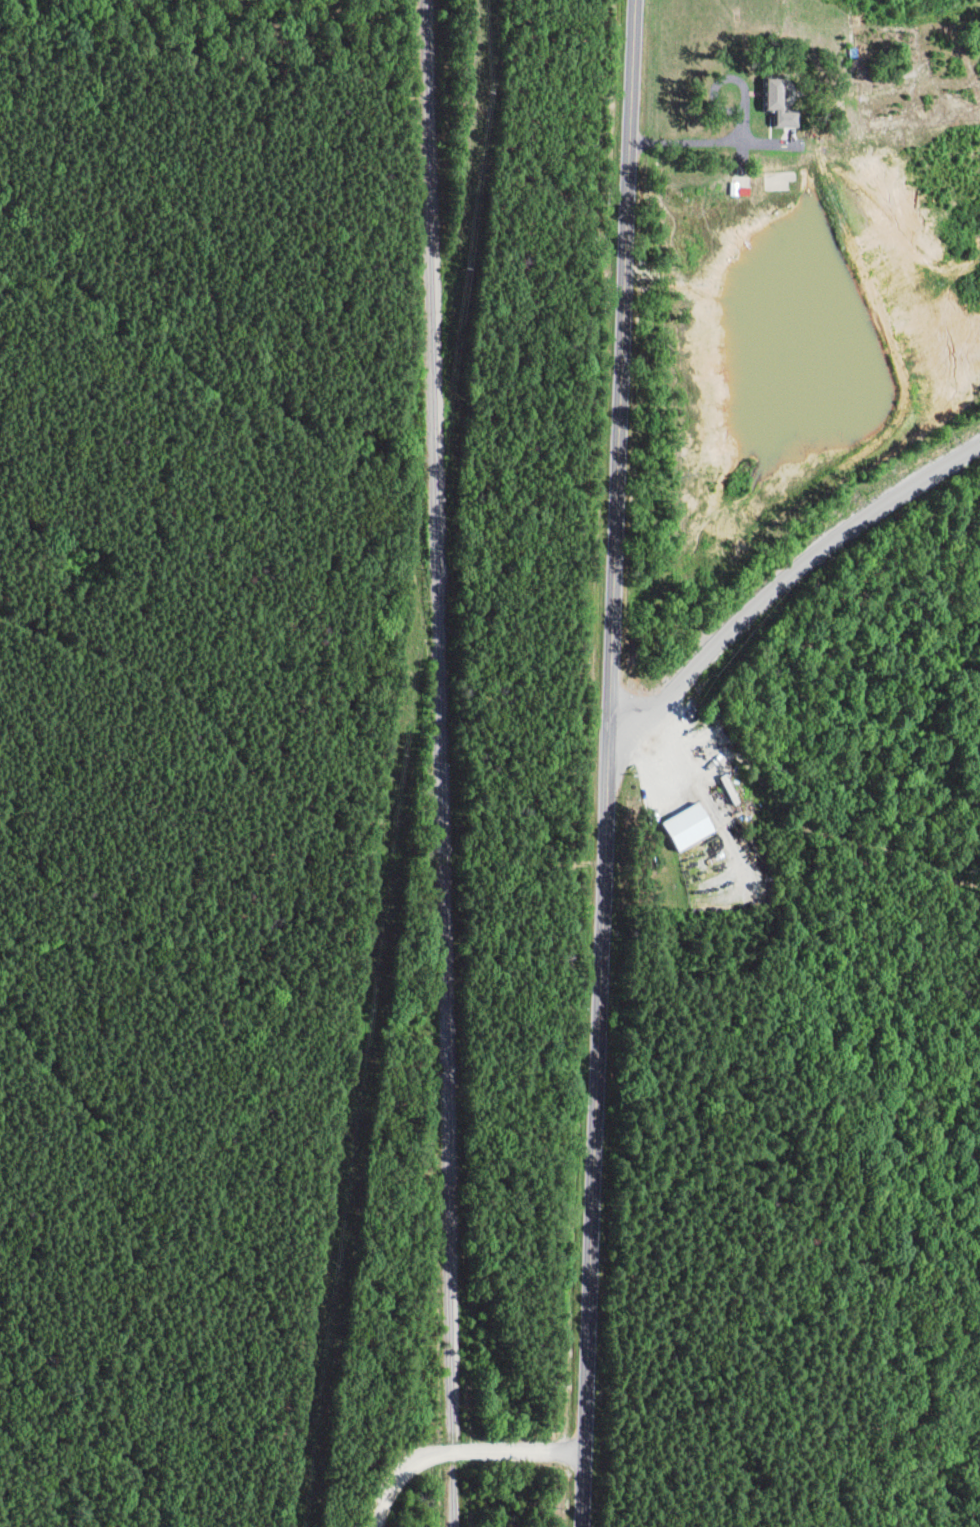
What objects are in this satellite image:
building: (778, 103)
road: (790, 581)
railway: (441, 720)
road: (616, 763)
building: (686, 827)
road: (463, 1450)
railway: (459, 1496)

